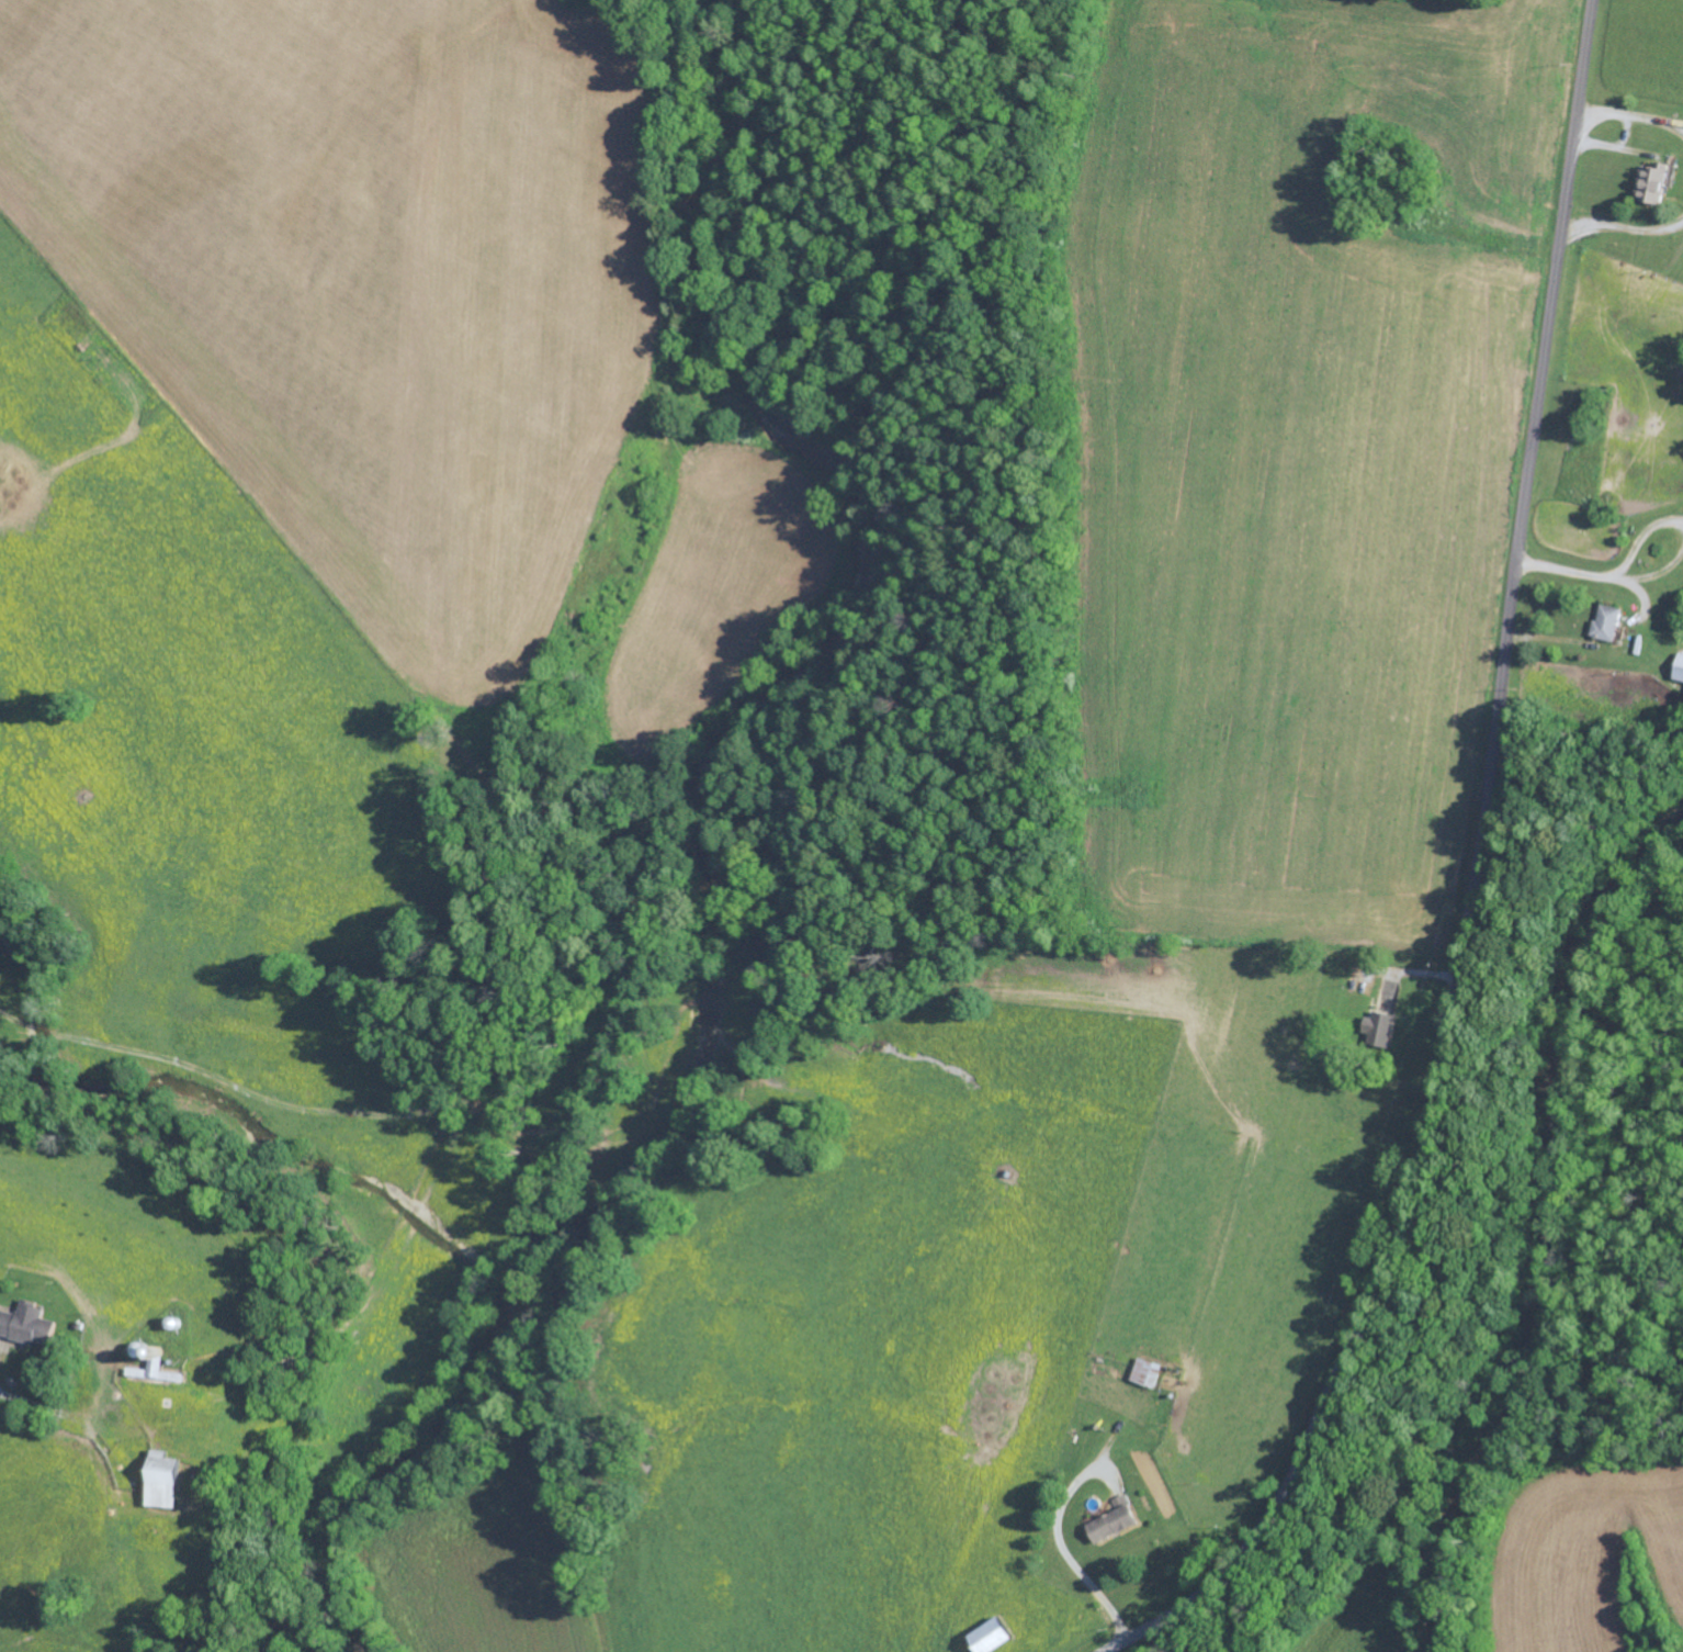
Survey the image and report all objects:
building: (1651, 183)
building: (1606, 621)
building: (1680, 667)
road: (1472, 881)
building: (1378, 1022)
building: (24, 1323)
building: (153, 1371)
road: (15, 1425)
building: (158, 1480)
building: (1110, 1521)
building: (987, 1637)

